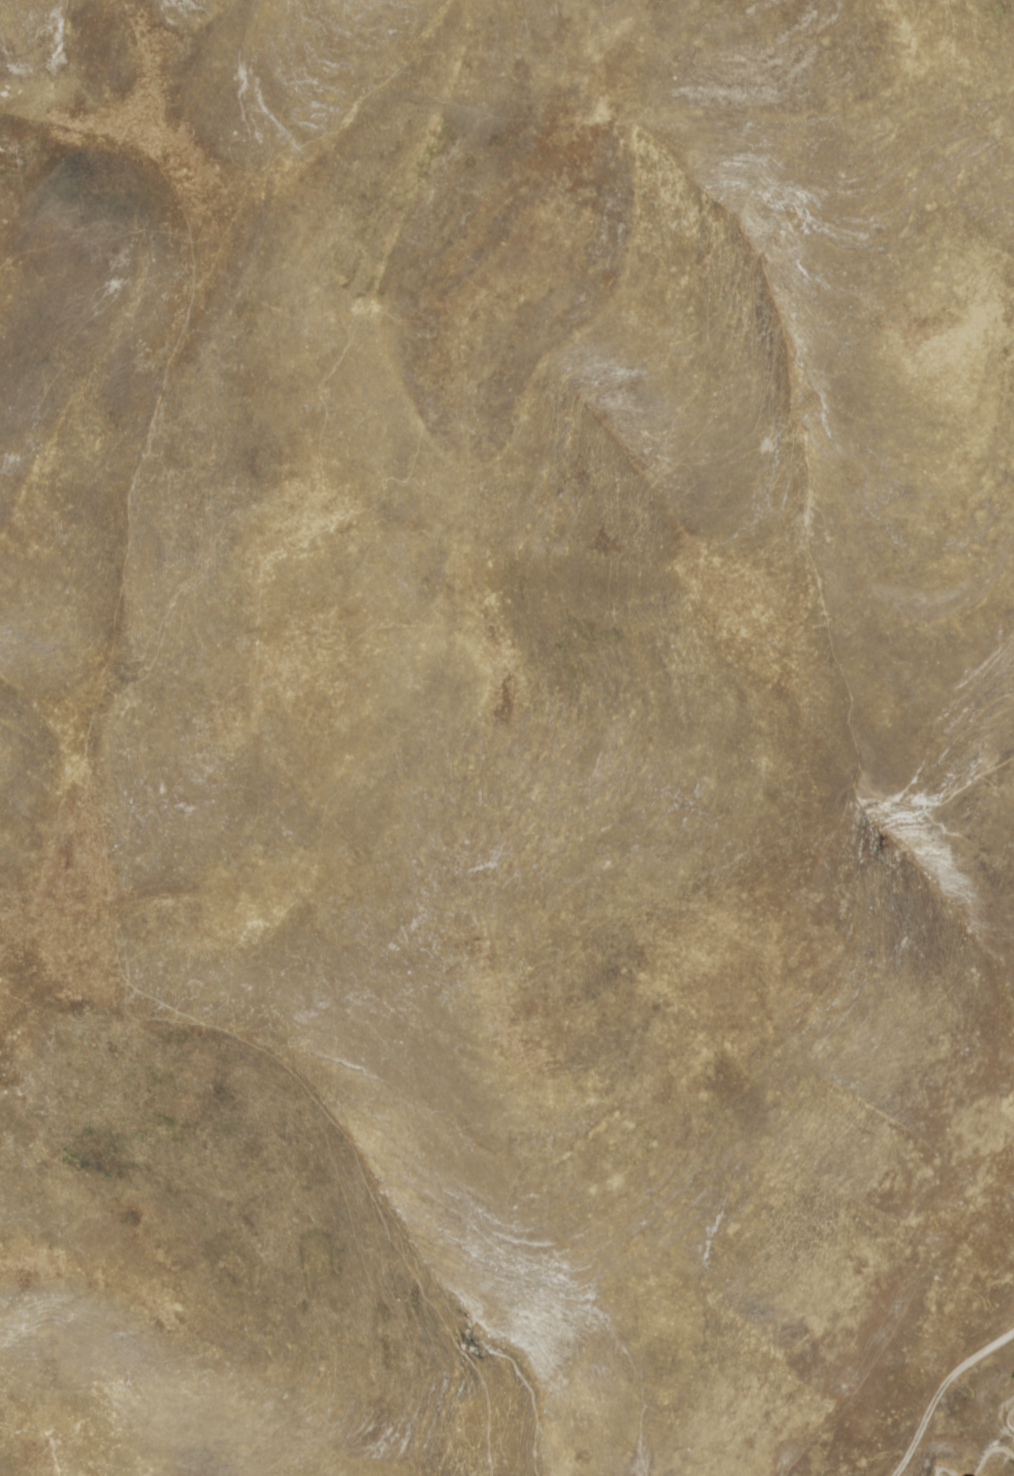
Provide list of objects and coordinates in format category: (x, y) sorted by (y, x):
road: (940, 1392)

